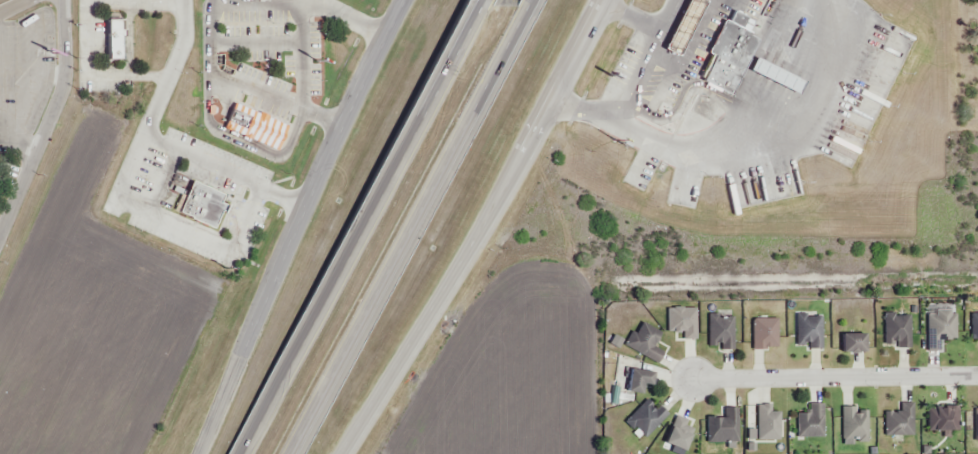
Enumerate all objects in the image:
road: (477, 4)
road: (524, 4)
road: (11, 5)
road: (346, 17)
building: (684, 26)
gas station: (684, 26)
road: (85, 30)
building: (117, 40)
building: (733, 41)
road: (301, 53)
building: (723, 75)
building: (776, 75)
gas station: (776, 75)
road: (243, 87)
road: (47, 119)
building: (257, 125)
road: (162, 142)
road: (525, 148)
road: (331, 163)
building: (204, 205)
road: (173, 222)
road: (357, 231)
road: (405, 231)
building: (681, 324)
building: (976, 328)
building: (896, 330)
building: (806, 331)
building: (720, 332)
building: (939, 332)
building: (764, 335)
building: (855, 342)
building: (645, 344)
road: (393, 374)
road: (836, 376)
building: (638, 381)
road: (228, 390)
building: (646, 420)
building: (941, 420)
building: (810, 423)
building: (897, 423)
building: (853, 426)
building: (767, 427)
building: (975, 428)
building: (721, 430)
building: (683, 435)

